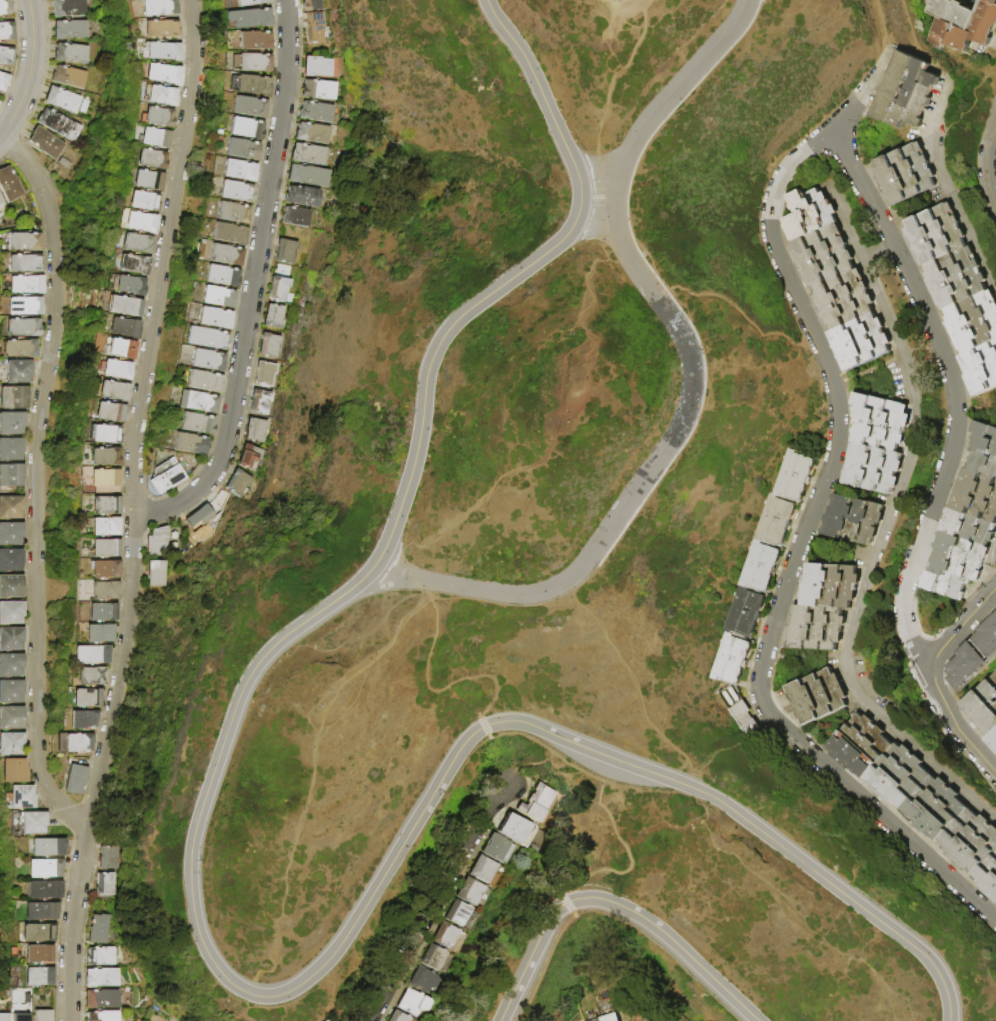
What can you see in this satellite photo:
road: (632, 1)
building: (250, 2)
building: (311, 5)
building: (5, 7)
building: (67, 7)
road: (623, 7)
building: (159, 8)
building: (249, 19)
building: (963, 24)
building: (314, 28)
building: (69, 30)
building: (161, 30)
building: (6, 32)
building: (254, 41)
road: (915, 47)
building: (162, 52)
building: (70, 53)
road: (883, 53)
building: (5, 56)
building: (254, 63)
building: (317, 68)
road: (689, 72)
road: (29, 73)
building: (163, 75)
building: (68, 77)
building: (3, 82)
building: (252, 85)
building: (318, 90)
building: (906, 92)
building: (161, 97)
building: (61, 100)
building: (250, 108)
building: (315, 113)
road: (843, 115)
building: (158, 118)
building: (58, 124)
building: (246, 129)
building: (312, 134)
building: (154, 139)
building: (44, 143)
road: (613, 145)
building: (242, 150)
building: (308, 155)
building: (151, 160)
building: (64, 164)
road: (985, 164)
building: (239, 171)
building: (906, 174)
building: (308, 177)
building: (147, 181)
building: (8, 185)
road: (947, 186)
building: (235, 192)
road: (597, 196)
building: (302, 197)
building: (1, 200)
road: (615, 200)
building: (143, 202)
building: (232, 213)
building: (811, 214)
building: (296, 218)
building: (140, 223)
building: (229, 234)
building: (937, 235)
building: (23, 242)
building: (136, 244)
building: (285, 251)
building: (225, 255)
building: (823, 256)
road: (880, 256)
road: (164, 257)
road: (613, 261)
building: (24, 263)
building: (134, 266)
building: (221, 276)
building: (958, 279)
building: (26, 285)
road: (251, 285)
building: (130, 287)
building: (281, 292)
road: (487, 293)
building: (217, 298)
building: (844, 299)
building: (24, 306)
building: (124, 307)
building: (274, 317)
building: (214, 319)
building: (975, 323)
building: (22, 328)
building: (123, 328)
building: (206, 338)
building: (861, 341)
building: (269, 346)
building: (19, 348)
building: (120, 350)
road: (701, 356)
building: (207, 361)
building: (982, 369)
building: (18, 371)
building: (116, 371)
building: (265, 374)
building: (204, 382)
road: (951, 383)
building: (113, 391)
building: (13, 397)
building: (198, 402)
building: (260, 402)
building: (109, 413)
building: (880, 422)
building: (11, 423)
building: (197, 424)
road: (559, 428)
building: (256, 431)
building: (105, 435)
building: (189, 444)
building: (10, 449)
building: (985, 450)
building: (104, 457)
building: (249, 458)
building: (873, 468)
building: (11, 474)
building: (796, 476)
building: (165, 477)
building: (104, 479)
building: (238, 483)
road: (36, 484)
building: (977, 496)
building: (104, 506)
building: (11, 507)
building: (200, 519)
building: (855, 520)
building: (777, 521)
road: (609, 527)
building: (105, 528)
road: (884, 529)
building: (11, 533)
building: (967, 536)
park: (526, 539)
building: (158, 542)
building: (105, 549)
road: (792, 558)
road: (994, 558)
building: (11, 560)
road: (409, 564)
building: (762, 566)
building: (105, 570)
building: (156, 574)
building: (952, 575)
building: (11, 586)
building: (831, 586)
road: (420, 589)
building: (104, 592)
road: (429, 598)
building: (10, 612)
building: (102, 613)
building: (746, 613)
road: (961, 622)
building: (817, 628)
building: (98, 634)
building: (11, 638)
building: (988, 638)
building: (91, 656)
road: (926, 657)
building: (733, 660)
building: (11, 664)
building: (968, 665)
building: (90, 677)
road: (634, 686)
road: (437, 689)
building: (11, 691)
building: (818, 696)
building: (86, 699)
building: (984, 706)
building: (11, 718)
building: (745, 718)
building: (83, 720)
road: (953, 723)
road: (484, 726)
building: (993, 740)
building: (11, 744)
building: (78, 744)
building: (861, 746)
road: (533, 763)
road: (104, 768)
building: (13, 770)
building: (899, 776)
road: (596, 777)
building: (75, 780)
road: (308, 781)
building: (21, 797)
building: (538, 803)
road: (714, 804)
building: (935, 808)
building: (33, 823)
road: (665, 824)
building: (516, 828)
building: (971, 841)
building: (47, 847)
building: (498, 847)
road: (793, 856)
building: (110, 857)
building: (44, 868)
building: (486, 870)
building: (988, 877)
building: (106, 884)
building: (44, 889)
building: (470, 890)
road: (563, 896)
road: (439, 903)
road: (570, 909)
building: (39, 910)
building: (458, 912)
road: (806, 924)
building: (98, 928)
building: (36, 932)
building: (446, 934)
road: (671, 940)
building: (38, 954)
road: (661, 954)
building: (101, 956)
building: (433, 956)
road: (528, 958)
road: (543, 966)
road: (951, 971)
building: (38, 976)
building: (101, 977)
building: (423, 978)
road: (257, 996)
building: (102, 998)
building: (412, 1001)
building: (42, 1015)
building: (103, 1016)
building: (399, 1016)
building: (4, 1017)
building: (20, 1017)
building: (597, 1019)
building: (642, 1019)
building: (313, 1020)
building: (325, 1020)
building: (647, 1020)

